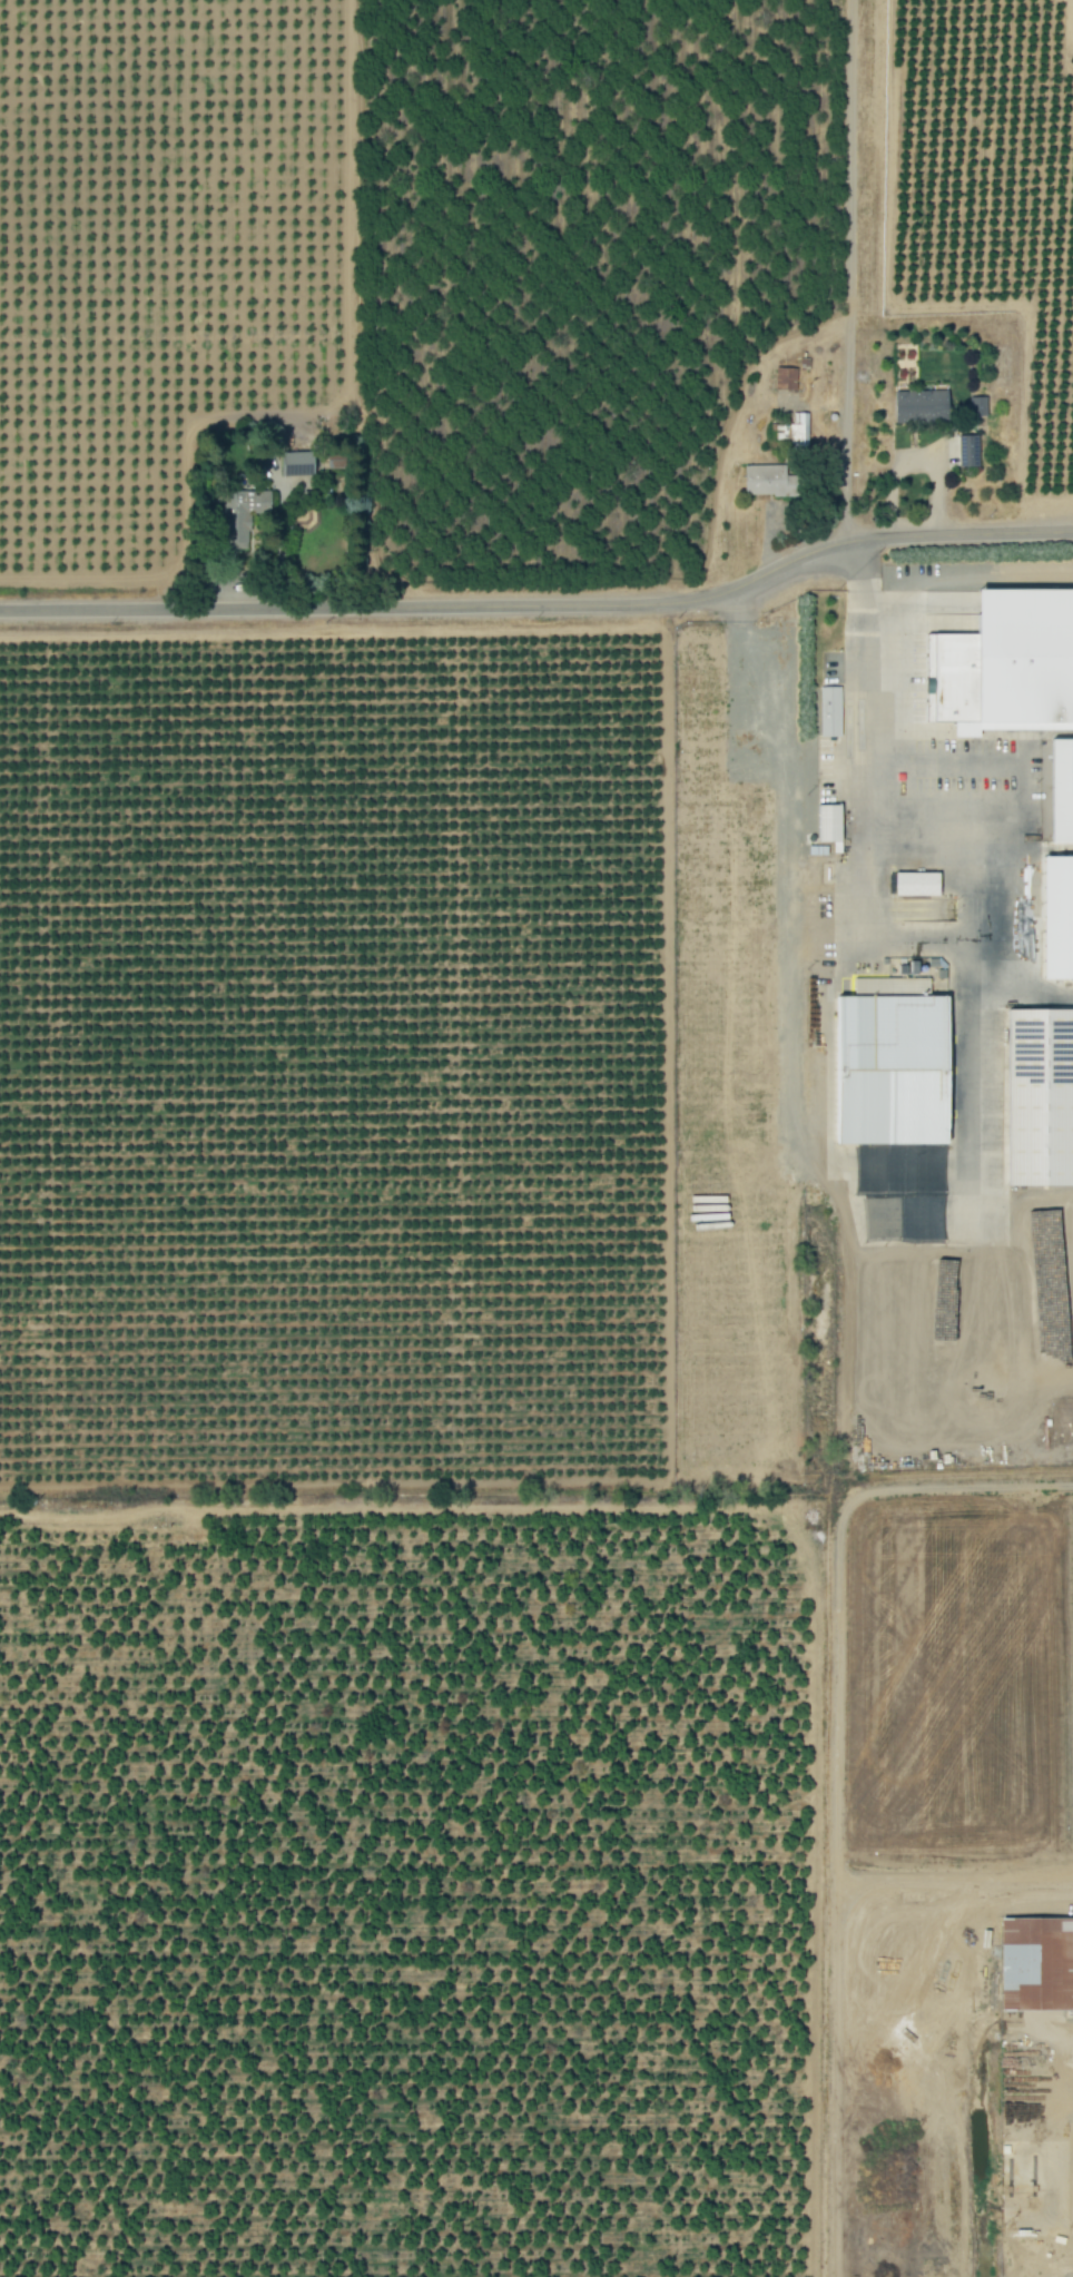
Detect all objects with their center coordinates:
road: (846, 267)
building: (786, 378)
building: (922, 406)
building: (977, 406)
building: (794, 431)
building: (968, 451)
building: (297, 463)
building: (766, 480)
building: (242, 516)
road: (545, 602)
building: (1007, 666)
building: (830, 711)
building: (1063, 791)
building: (830, 824)
building: (917, 884)
building: (1059, 918)
building: (893, 1068)
building: (1042, 1098)
railway: (869, 1137)
road: (843, 1319)
building: (1037, 1963)

